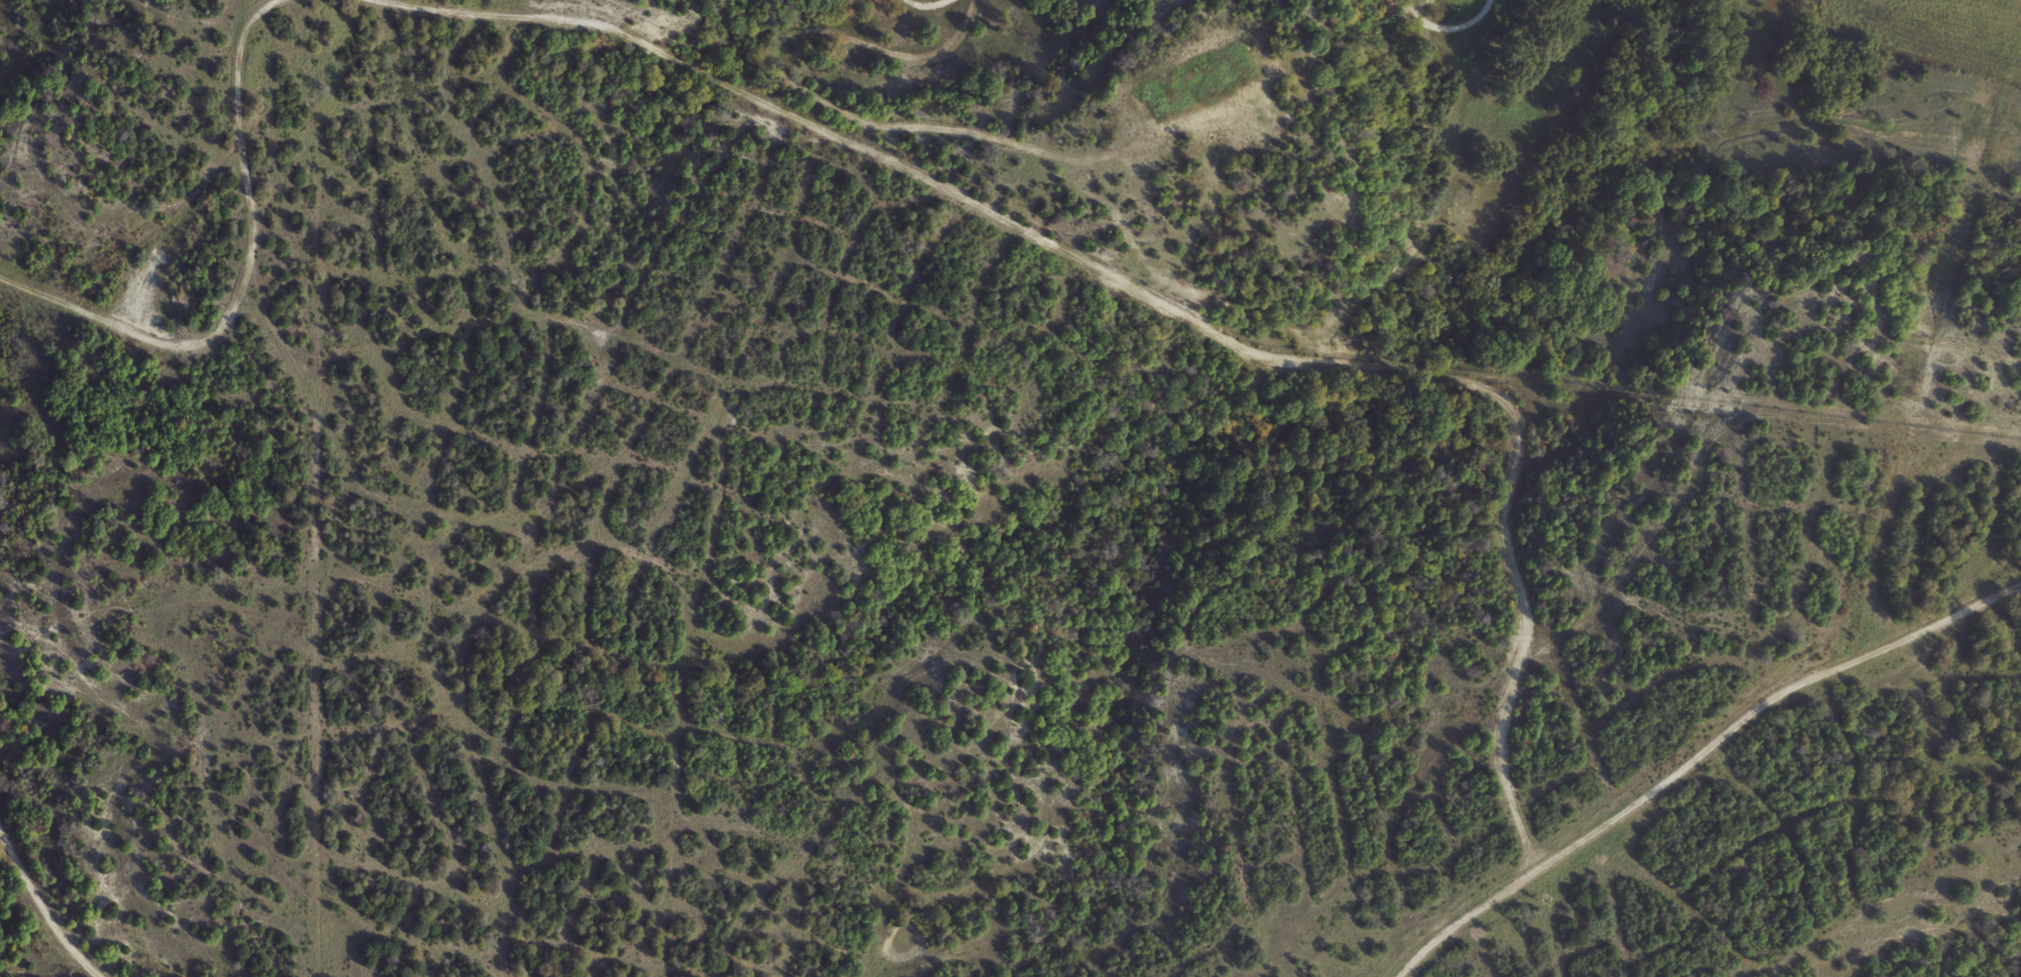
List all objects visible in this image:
road: (927, 5)
road: (1440, 20)
road: (854, 91)
road: (245, 280)
road: (1168, 306)
road: (1761, 698)
road: (43, 906)
road: (1458, 916)

